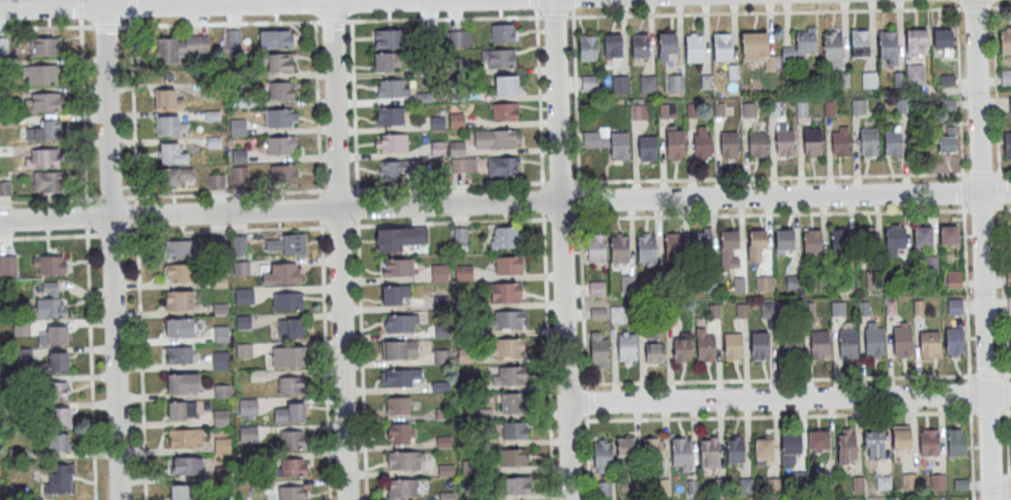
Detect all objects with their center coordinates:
road: (991, 1)
road: (221, 4)
road: (350, 7)
road: (314, 8)
road: (81, 9)
road: (130, 9)
road: (788, 12)
road: (554, 16)
road: (443, 18)
road: (333, 20)
road: (221, 23)
road: (46, 26)
road: (107, 26)
building: (502, 32)
building: (386, 38)
building: (459, 38)
building: (233, 39)
building: (277, 39)
building: (916, 40)
building: (944, 40)
building: (1006, 41)
building: (805, 42)
building: (861, 43)
building: (889, 43)
building: (44, 45)
building: (613, 45)
building: (640, 45)
building: (668, 46)
building: (723, 46)
building: (752, 46)
building: (834, 46)
building: (180, 47)
building: (588, 47)
building: (695, 48)
building: (498, 57)
building: (386, 61)
building: (282, 62)
building: (40, 74)
building: (915, 74)
building: (591, 76)
building: (1006, 76)
building: (869, 80)
building: (675, 82)
building: (620, 83)
building: (648, 83)
building: (507, 84)
building: (392, 88)
building: (283, 90)
road: (574, 92)
road: (539, 93)
building: (168, 99)
building: (43, 101)
road: (317, 103)
road: (353, 103)
building: (1009, 104)
building: (946, 105)
road: (133, 107)
building: (667, 109)
building: (505, 111)
building: (639, 111)
road: (84, 113)
building: (390, 115)
building: (279, 118)
building: (456, 121)
building: (437, 123)
building: (171, 125)
building: (45, 131)
building: (595, 137)
building: (496, 139)
building: (813, 141)
building: (869, 141)
building: (391, 142)
building: (675, 143)
building: (785, 143)
building: (893, 143)
building: (730, 144)
building: (758, 144)
building: (841, 144)
building: (947, 144)
building: (1007, 144)
building: (280, 145)
building: (620, 145)
building: (703, 146)
building: (438, 149)
building: (457, 149)
building: (647, 149)
building: (172, 154)
building: (43, 157)
building: (463, 166)
building: (503, 166)
building: (390, 170)
building: (284, 173)
building: (178, 176)
road: (792, 176)
building: (239, 177)
building: (216, 181)
road: (560, 181)
building: (47, 182)
building: (5, 187)
road: (335, 190)
road: (111, 197)
road: (578, 198)
road: (49, 199)
road: (542, 200)
road: (505, 203)
road: (790, 213)
road: (87, 218)
road: (557, 218)
road: (335, 226)
road: (113, 233)
road: (49, 236)
building: (950, 236)
building: (505, 237)
building: (401, 238)
building: (865, 239)
building: (896, 240)
building: (924, 240)
building: (702, 241)
building: (841, 241)
building: (1008, 241)
building: (786, 242)
building: (813, 242)
building: (757, 243)
building: (273, 244)
building: (293, 244)
building: (239, 245)
building: (674, 246)
building: (647, 248)
road: (110, 249)
building: (177, 249)
road: (563, 249)
building: (597, 249)
building: (621, 249)
building: (730, 249)
road: (965, 249)
road: (981, 250)
road: (1000, 250)
road: (337, 251)
building: (49, 264)
building: (508, 264)
building: (8, 265)
building: (396, 266)
building: (241, 267)
building: (439, 272)
building: (178, 273)
building: (283, 273)
building: (793, 282)
building: (764, 283)
building: (596, 288)
building: (505, 291)
building: (395, 294)
building: (244, 295)
road: (583, 298)
building: (178, 300)
building: (287, 301)
building: (50, 302)
building: (1009, 305)
building: (618, 313)
building: (508, 320)
building: (401, 322)
building: (179, 327)
building: (290, 327)
building: (221, 333)
building: (53, 334)
building: (902, 339)
building: (875, 341)
building: (955, 341)
building: (848, 343)
building: (793, 344)
building: (821, 344)
building: (930, 345)
building: (1010, 345)
building: (733, 346)
building: (761, 346)
road: (141, 347)
road: (324, 347)
road: (360, 347)
building: (509, 347)
building: (628, 347)
building: (707, 348)
building: (400, 349)
building: (600, 350)
building: (683, 351)
building: (655, 353)
building: (178, 354)
building: (287, 355)
road: (547, 357)
building: (220, 359)
building: (54, 363)
road: (91, 364)
building: (513, 375)
building: (400, 377)
road: (798, 378)
building: (182, 383)
building: (291, 384)
building: (59, 389)
road: (789, 397)
road: (586, 401)
building: (509, 402)
building: (397, 405)
building: (248, 406)
building: (181, 411)
building: (289, 411)
road: (799, 415)
building: (61, 417)
building: (516, 430)
building: (400, 433)
building: (248, 434)
building: (185, 437)
building: (900, 437)
building: (291, 438)
building: (818, 440)
building: (58, 442)
building: (928, 442)
building: (956, 442)
building: (222, 445)
building: (874, 445)
building: (846, 446)
building: (790, 447)
building: (653, 449)
building: (735, 449)
building: (763, 449)
building: (625, 451)
building: (709, 452)
building: (680, 454)
building: (602, 456)
building: (513, 457)
road: (588, 458)
building: (405, 460)
building: (186, 465)
building: (291, 467)
building: (59, 478)
building: (908, 480)
building: (937, 480)
building: (883, 483)
building: (517, 485)
building: (773, 485)
building: (602, 488)
building: (401, 489)
building: (179, 492)
building: (291, 492)

